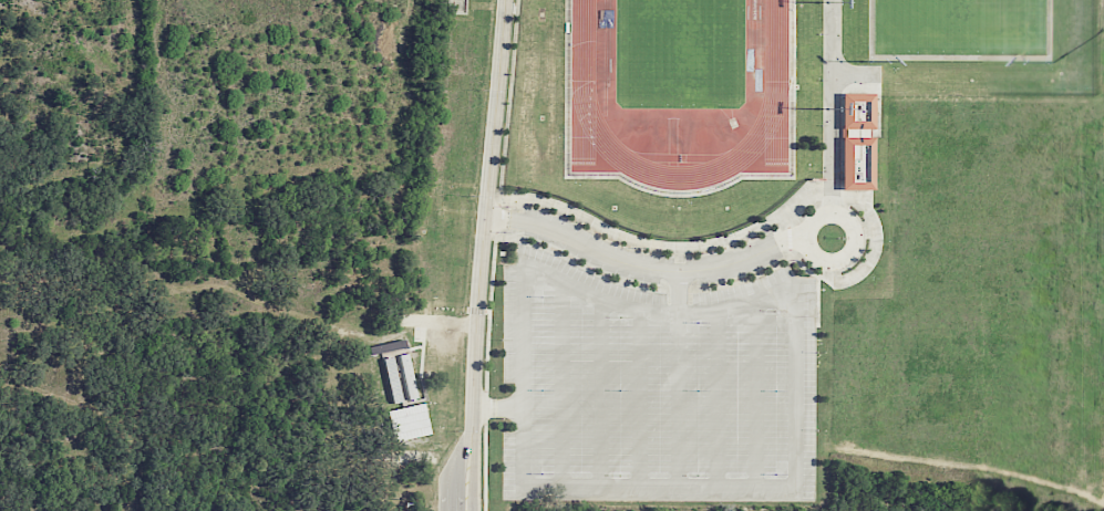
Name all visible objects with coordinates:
park: (960, 25)
park: (680, 53)
road: (832, 106)
track: (680, 108)
building: (856, 139)
road: (832, 213)
road: (485, 216)
road: (644, 267)
road: (778, 296)
building: (395, 369)
road: (679, 377)
road: (561, 383)
road: (601, 392)
road: (756, 392)
road: (639, 397)
road: (716, 397)
road: (498, 408)
building: (406, 421)
road: (485, 459)
road: (467, 471)
road: (464, 509)

